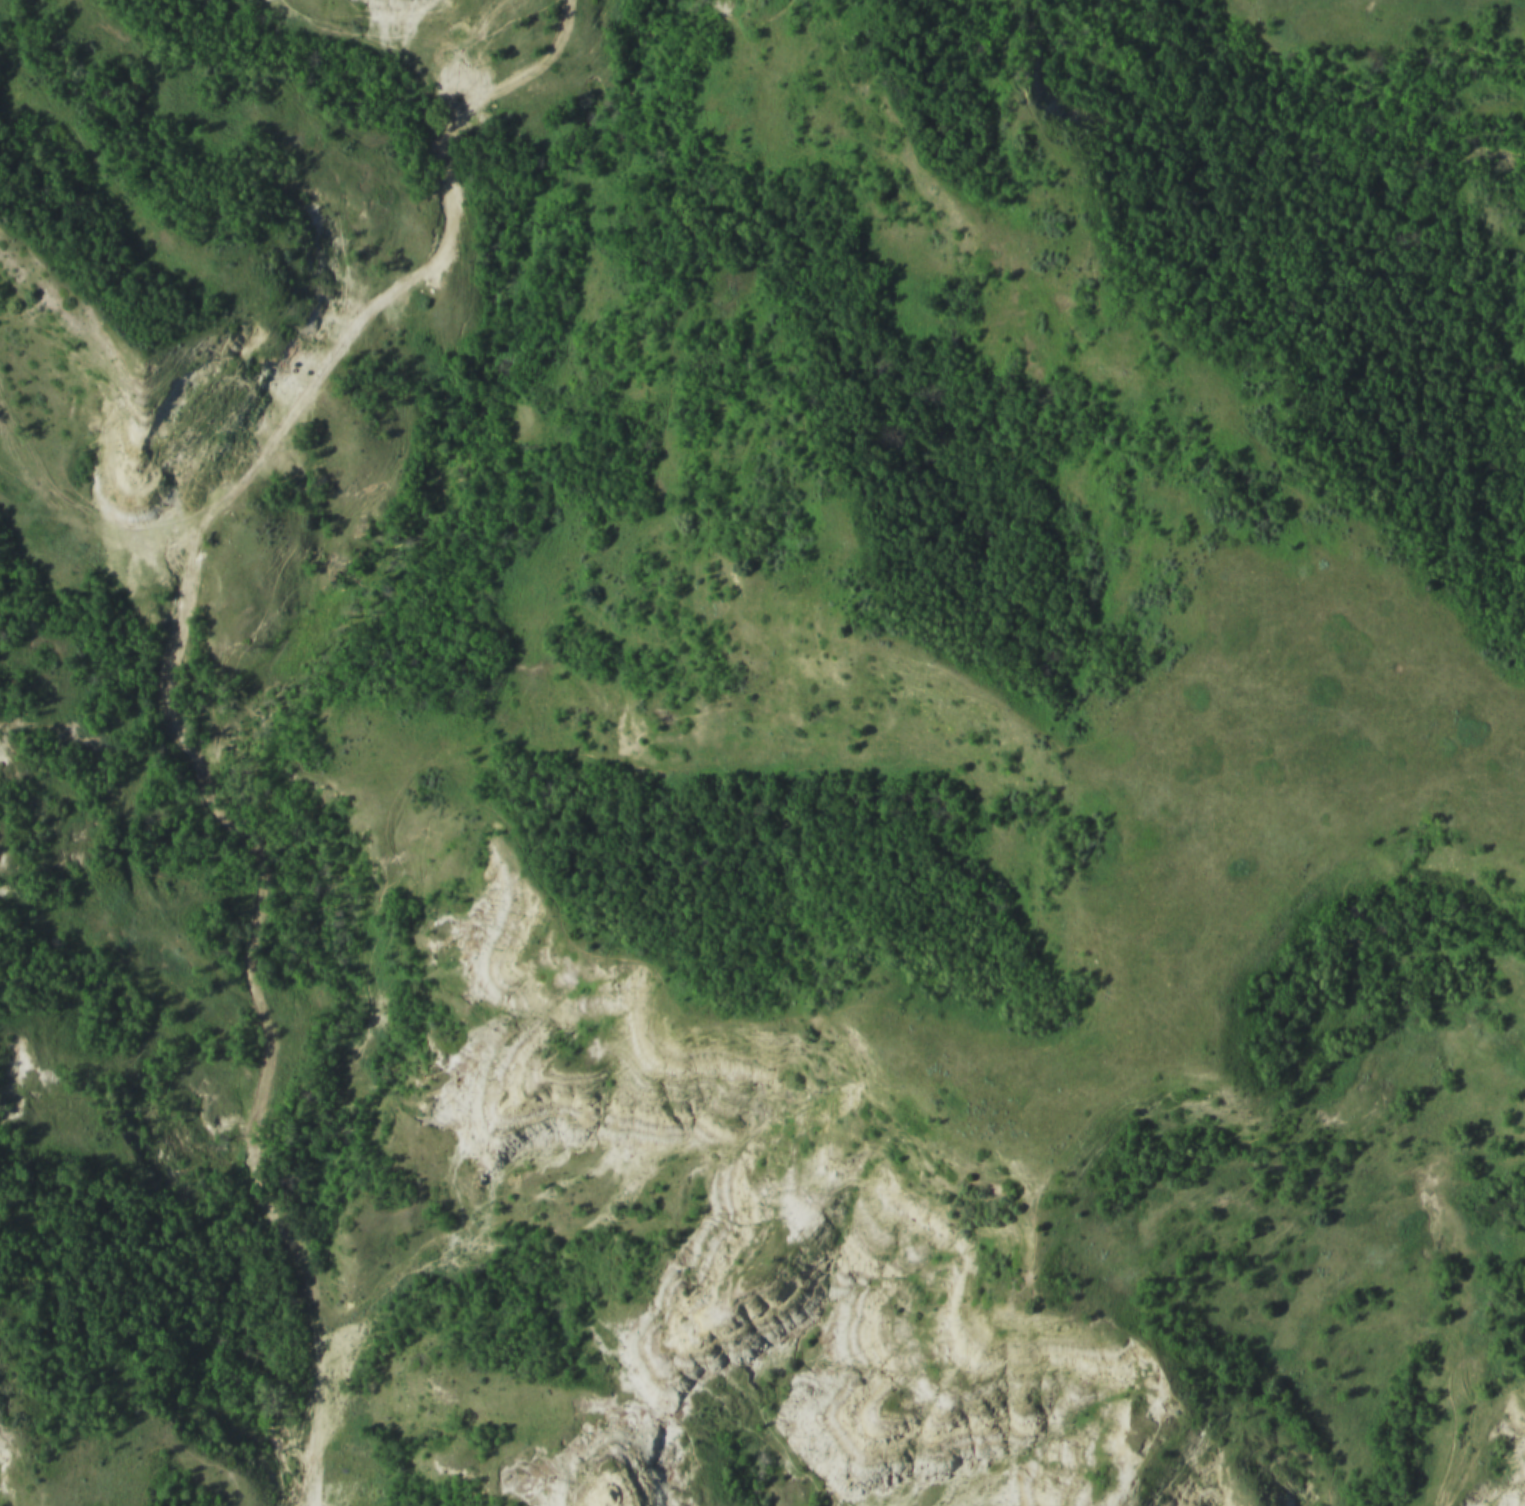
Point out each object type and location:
road: (73, 520)
road: (173, 717)
road: (71, 737)
road: (130, 801)

